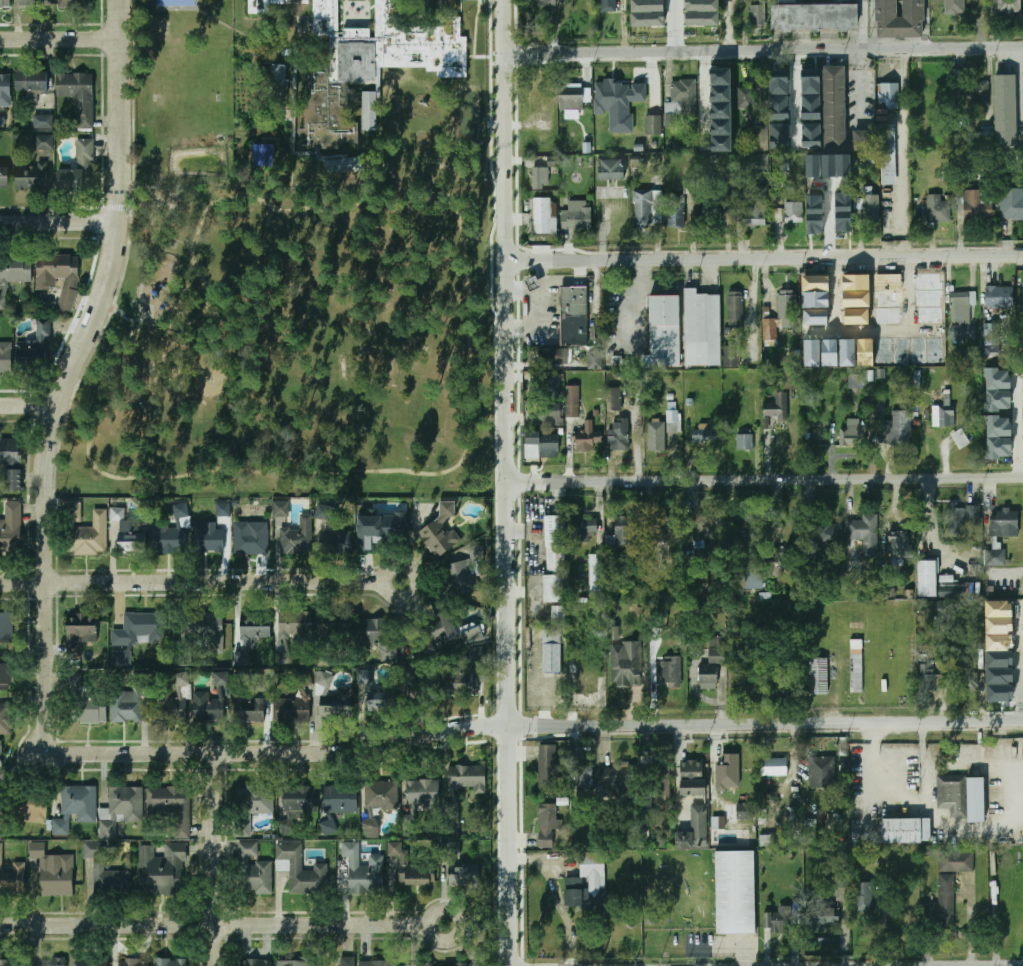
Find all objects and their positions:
building: (744, 0)
building: (547, 2)
building: (784, 2)
building: (178, 3)
building: (5, 4)
building: (37, 4)
building: (77, 4)
park: (178, 4)
building: (269, 4)
building: (609, 6)
building: (954, 6)
building: (1009, 7)
building: (703, 12)
building: (358, 13)
building: (648, 13)
building: (758, 16)
building: (814, 17)
building: (899, 19)
road: (926, 25)
road: (860, 26)
road: (873, 26)
road: (679, 27)
road: (732, 27)
road: (59, 38)
road: (764, 53)
park: (187, 60)
building: (365, 67)
building: (32, 81)
road: (859, 82)
building: (274, 83)
building: (5, 90)
building: (716, 94)
building: (811, 94)
building: (779, 95)
building: (889, 95)
building: (78, 96)
building: (682, 97)
building: (746, 97)
park: (187, 98)
building: (570, 98)
building: (975, 99)
building: (642, 101)
building: (618, 103)
building: (833, 109)
building: (371, 110)
building: (1005, 112)
building: (2, 121)
building: (43, 121)
building: (779, 135)
building: (812, 135)
building: (761, 138)
building: (977, 139)
building: (43, 142)
building: (888, 154)
building: (265, 155)
building: (343, 164)
building: (757, 164)
building: (78, 169)
building: (610, 170)
building: (5, 177)
building: (32, 178)
building: (539, 178)
building: (688, 187)
building: (977, 204)
building: (1011, 204)
building: (825, 208)
building: (642, 209)
building: (870, 209)
building: (938, 209)
building: (676, 212)
building: (754, 212)
building: (714, 213)
building: (793, 213)
building: (576, 214)
building: (542, 215)
road: (58, 223)
road: (765, 252)
building: (15, 268)
building: (59, 276)
building: (535, 283)
building: (999, 297)
building: (1022, 297)
building: (786, 304)
building: (735, 307)
building: (963, 307)
road: (121, 316)
building: (575, 316)
road: (145, 321)
building: (704, 328)
road: (900, 328)
building: (666, 330)
building: (963, 331)
building: (992, 340)
building: (35, 346)
park: (290, 350)
building: (552, 356)
building: (731, 356)
building: (5, 357)
building: (594, 360)
road: (508, 362)
road: (67, 372)
building: (792, 379)
building: (857, 382)
building: (548, 385)
building: (998, 389)
road: (466, 394)
building: (614, 398)
building: (571, 401)
building: (777, 407)
road: (28, 408)
building: (550, 414)
building: (941, 415)
building: (674, 419)
road: (1017, 427)
building: (896, 428)
building: (851, 433)
building: (618, 434)
building: (703, 434)
building: (655, 436)
building: (586, 437)
building: (999, 437)
building: (960, 439)
building: (744, 442)
building: (541, 445)
building: (11, 460)
road: (765, 481)
building: (223, 509)
building: (280, 509)
road: (927, 512)
building: (323, 513)
building: (961, 518)
building: (624, 521)
building: (1004, 523)
building: (10, 526)
building: (380, 528)
building: (707, 528)
building: (584, 529)
building: (663, 530)
building: (84, 531)
building: (440, 532)
building: (865, 532)
building: (127, 533)
building: (171, 533)
building: (829, 533)
building: (204, 535)
building: (744, 535)
building: (296, 536)
building: (623, 538)
building: (248, 539)
building: (345, 540)
building: (555, 543)
building: (899, 547)
building: (995, 558)
building: (778, 562)
building: (855, 569)
building: (595, 574)
building: (461, 576)
building: (927, 578)
building: (753, 581)
road: (191, 582)
road: (414, 582)
building: (553, 588)
building: (952, 591)
building: (997, 609)
building: (935, 610)
building: (558, 614)
building: (293, 625)
building: (254, 626)
building: (997, 626)
building: (5, 627)
building: (139, 629)
building: (452, 630)
building: (80, 633)
building: (207, 633)
building: (614, 633)
building: (361, 634)
building: (997, 643)
building: (856, 647)
building: (551, 651)
building: (120, 659)
building: (997, 659)
building: (626, 663)
building: (712, 663)
building: (572, 667)
building: (857, 670)
building: (671, 671)
building: (5, 674)
building: (467, 674)
building: (818, 676)
building: (998, 677)
building: (362, 678)
building: (76, 679)
building: (220, 679)
building: (931, 679)
building: (322, 681)
building: (968, 681)
building: (588, 685)
building: (415, 689)
building: (998, 694)
building: (381, 700)
building: (173, 703)
building: (128, 705)
building: (333, 706)
building: (205, 708)
building: (249, 710)
building: (293, 710)
building: (90, 711)
building: (5, 719)
road: (766, 723)
road: (282, 753)
road: (873, 754)
building: (0, 759)
building: (773, 767)
building: (728, 768)
building: (545, 769)
building: (823, 772)
building: (467, 778)
building: (691, 778)
building: (583, 779)
building: (613, 780)
building: (658, 783)
building: (422, 794)
building: (380, 795)
building: (962, 797)
building: (255, 799)
building: (299, 799)
building: (340, 800)
building: (26, 807)
building: (75, 807)
building: (170, 807)
building: (119, 809)
building: (744, 811)
building: (452, 818)
building: (774, 818)
building: (406, 821)
building: (718, 822)
building: (547, 824)
building: (329, 827)
building: (695, 830)
building: (906, 831)
building: (767, 840)
road: (511, 846)
building: (1, 849)
building: (449, 849)
building: (36, 850)
building: (870, 856)
road: (217, 859)
building: (956, 861)
building: (161, 869)
building: (299, 869)
building: (412, 869)
building: (251, 870)
building: (363, 870)
building: (104, 871)
building: (58, 876)
building: (464, 877)
building: (13, 878)
building: (573, 883)
building: (843, 888)
building: (734, 892)
building: (864, 897)
building: (941, 905)
building: (780, 919)
building: (825, 919)
road: (464, 923)
road: (215, 925)
building: (57, 961)
building: (91, 961)
building: (344, 961)
building: (12, 962)
building: (133, 962)
building: (170, 962)
building: (253, 962)
building: (294, 963)
building: (373, 963)
building: (444, 964)

